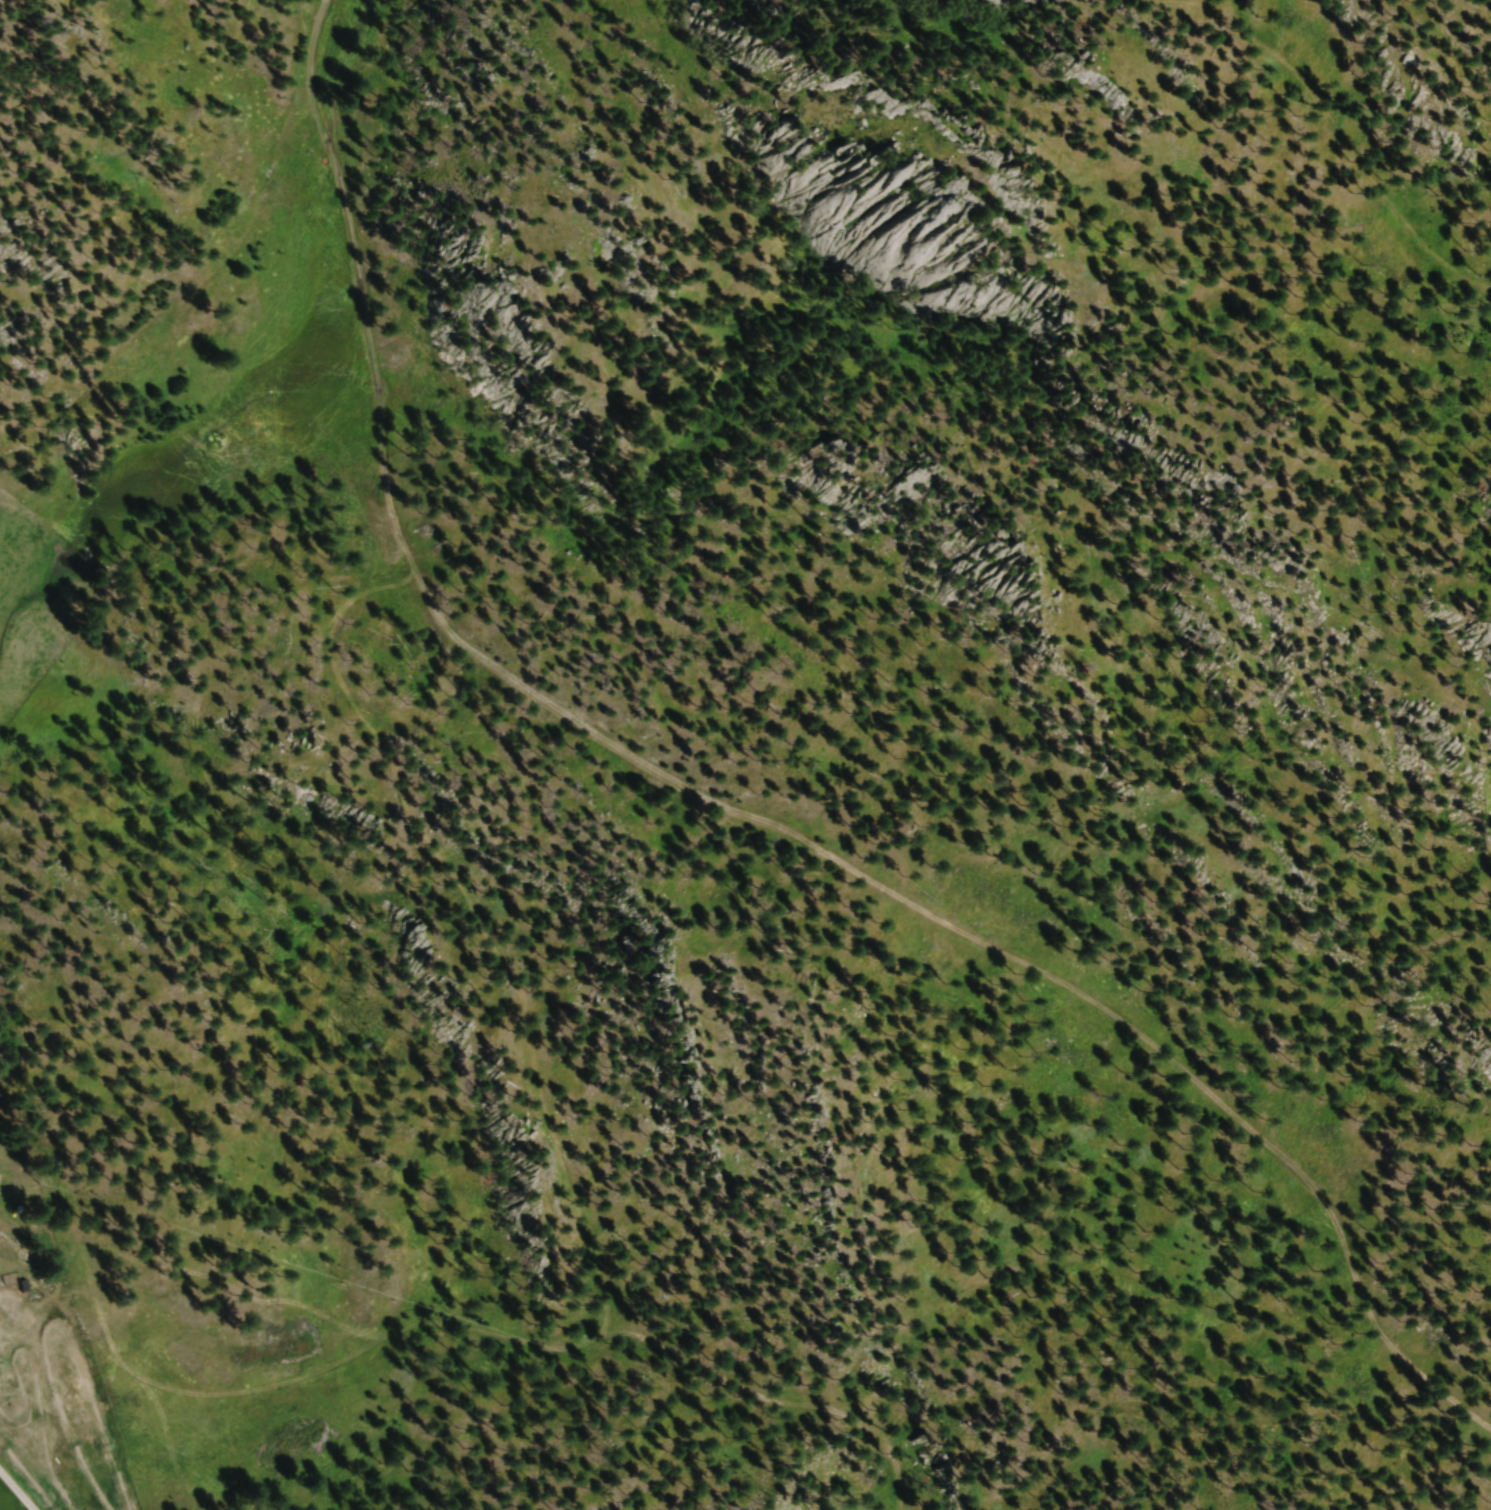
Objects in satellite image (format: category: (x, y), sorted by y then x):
road: (736, 813)
road: (11, 1498)

